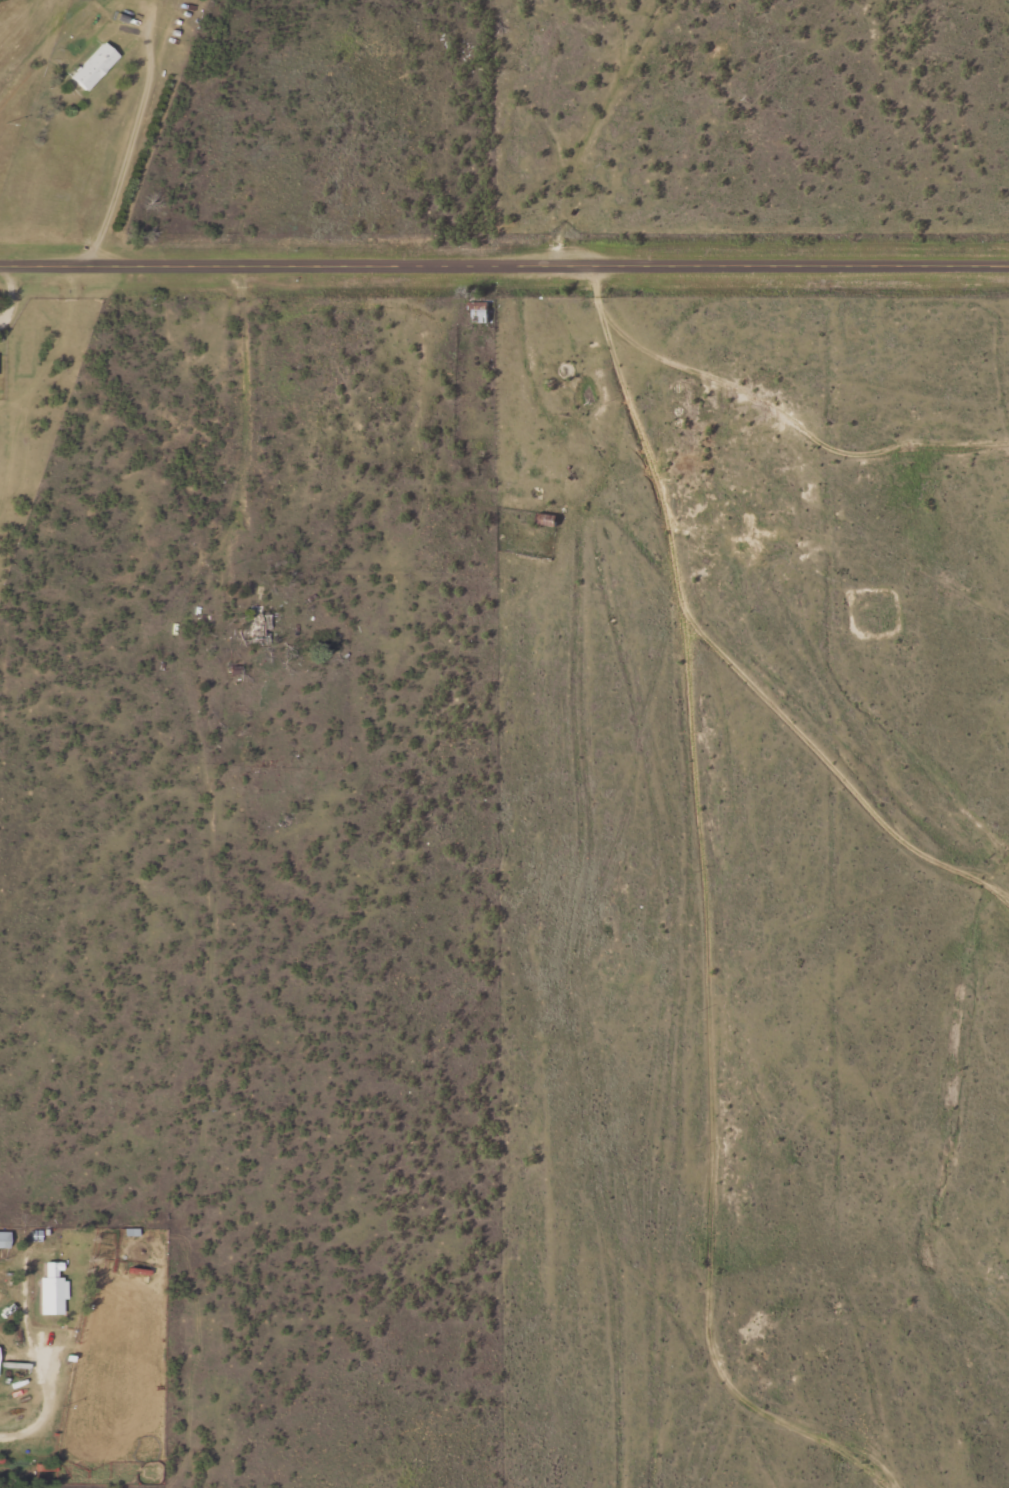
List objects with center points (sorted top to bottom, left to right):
building: (94, 66)
road: (132, 136)
road: (281, 266)
road: (786, 268)
building: (4, 1239)
building: (52, 1290)
road: (9, 1433)

